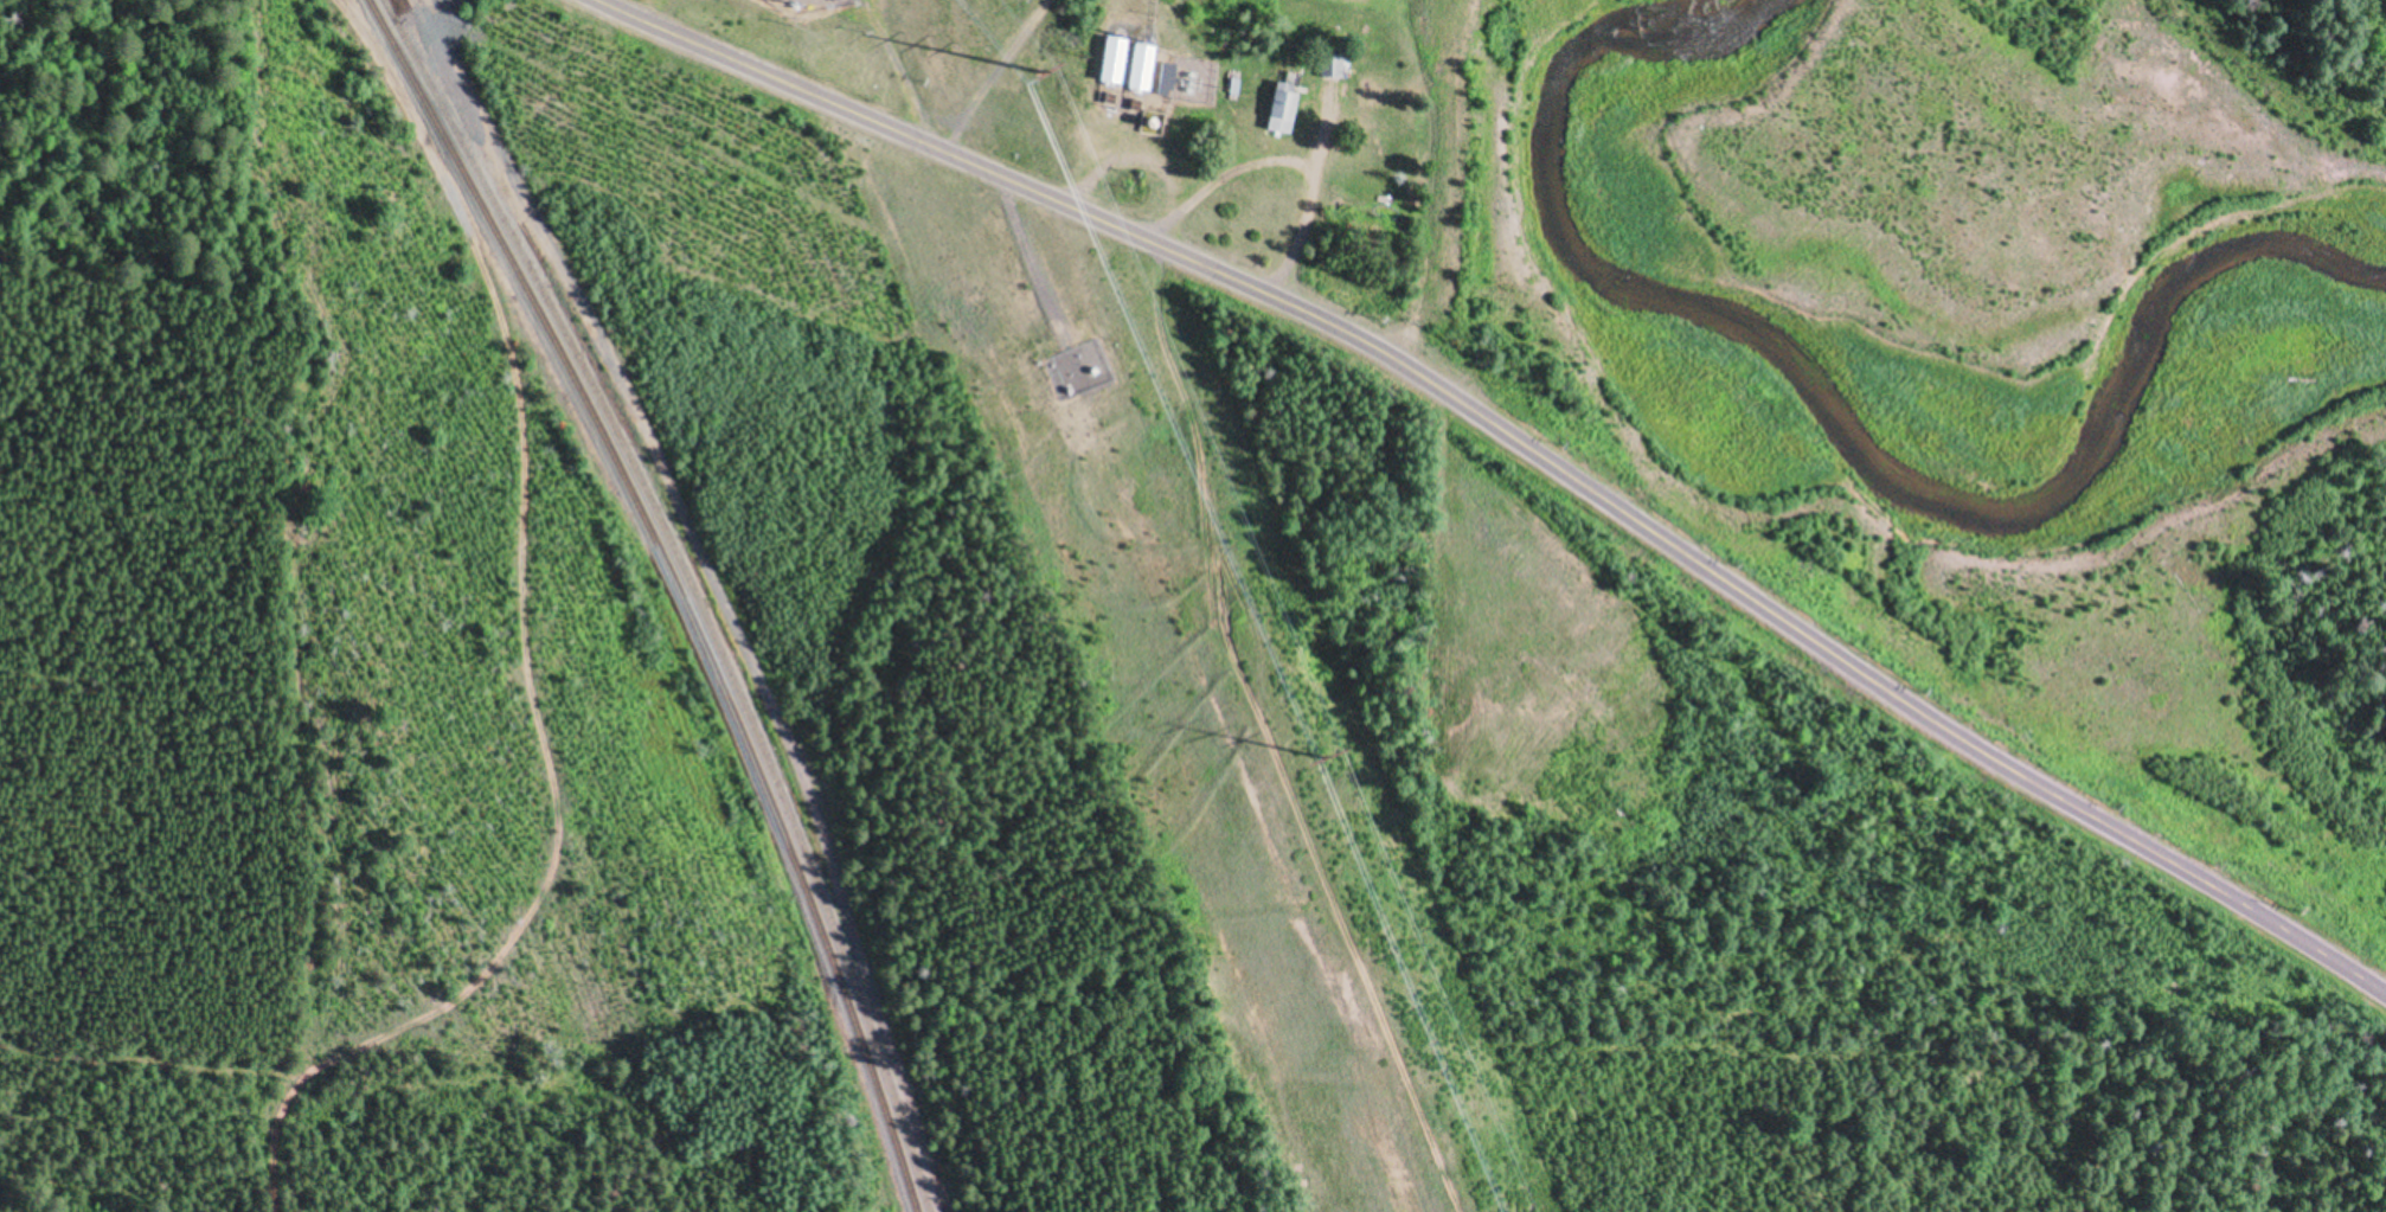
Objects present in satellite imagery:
road: (437, 4)
power substation: (808, 5)
building: (1125, 68)
building: (1338, 71)
power tower: (1040, 72)
building: (1166, 82)
building: (1284, 114)
river: (2037, 231)
building: (1076, 376)
road: (1519, 443)
railway: (681, 589)
railway: (695, 589)
road: (723, 594)
road: (532, 655)
power tower: (1323, 758)

